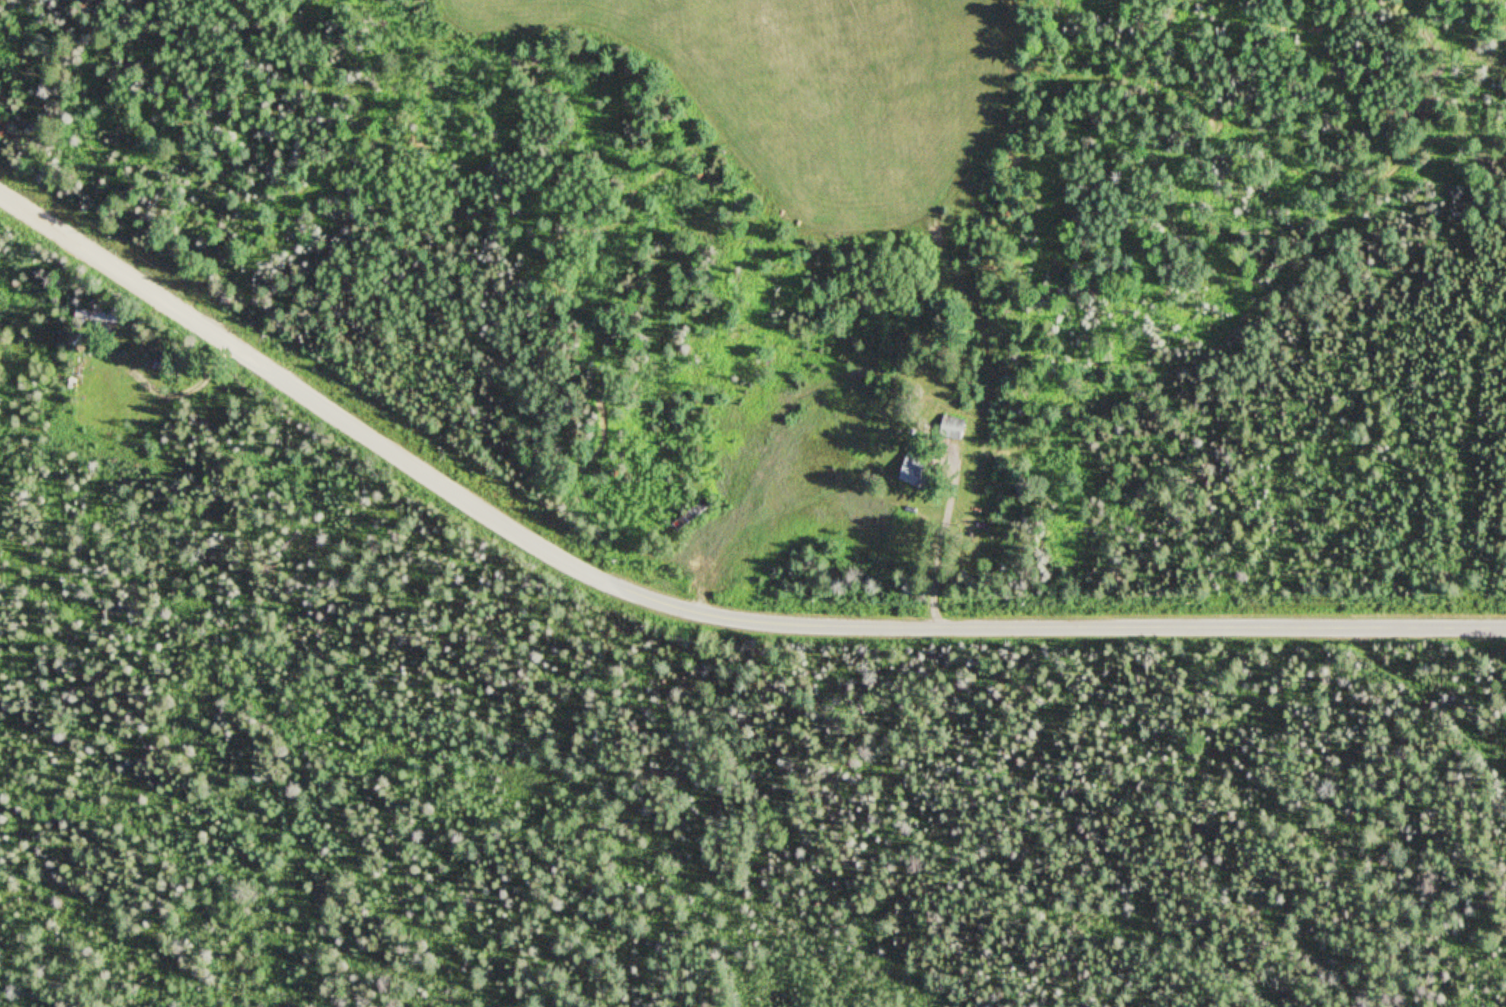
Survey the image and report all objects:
building: (101, 315)
building: (917, 465)
road: (693, 609)

